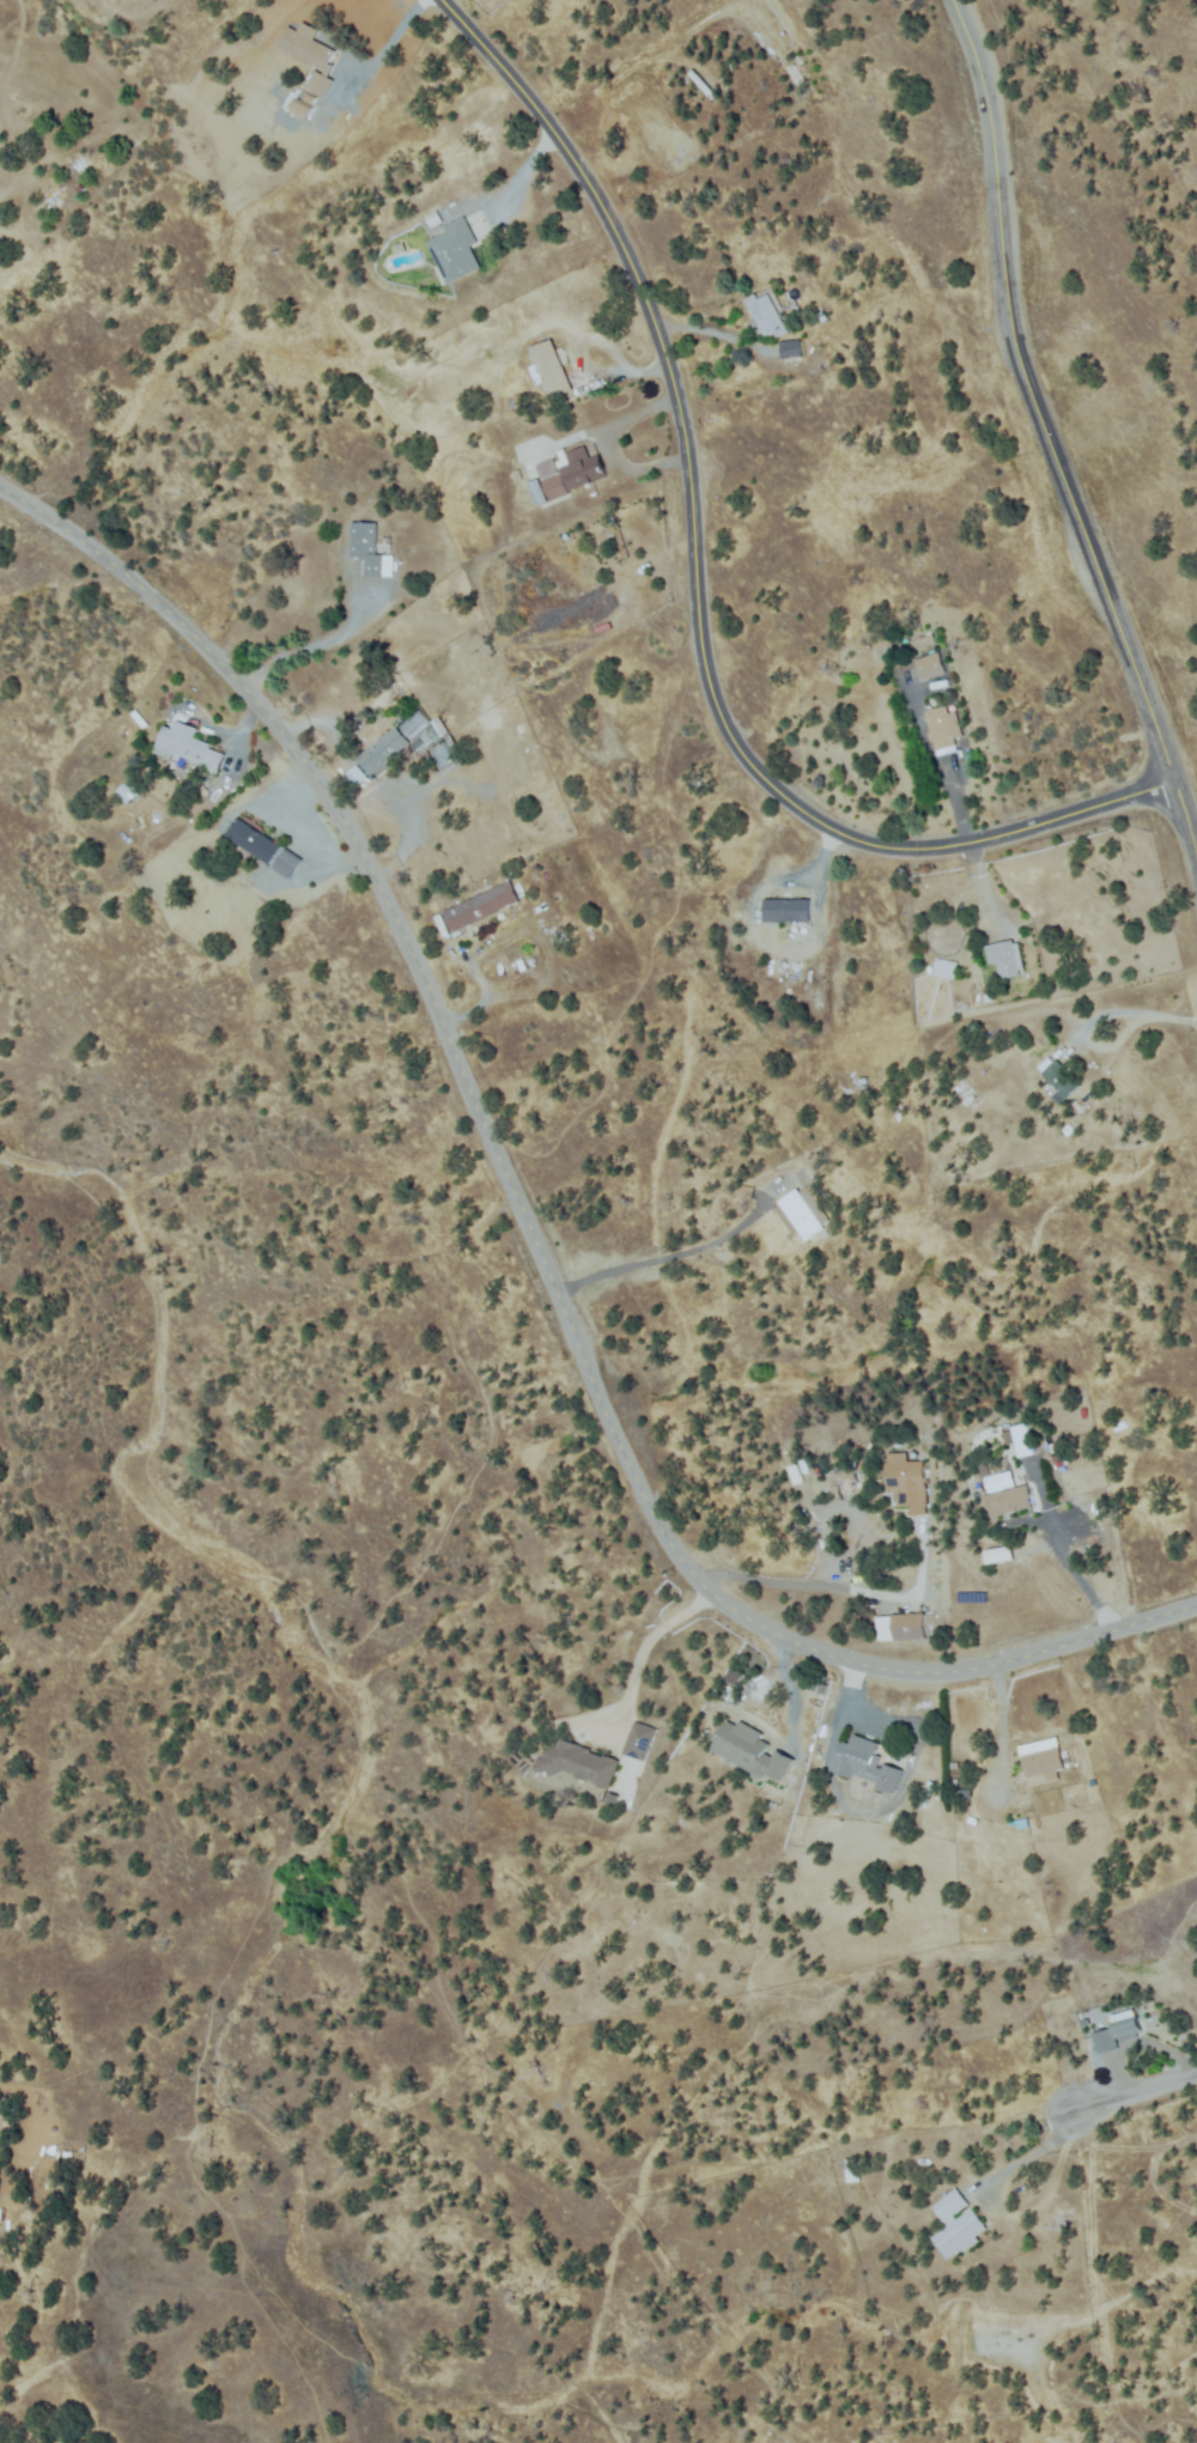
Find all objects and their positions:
building: (310, 55)
building: (311, 99)
building: (299, 108)
building: (455, 250)
building: (766, 316)
building: (821, 317)
building: (790, 350)
building: (552, 369)
road: (1046, 449)
building: (583, 468)
building: (552, 480)
building: (539, 492)
building: (370, 549)
road: (694, 581)
building: (926, 642)
building: (930, 667)
building: (943, 727)
building: (417, 743)
building: (188, 747)
building: (383, 752)
building: (356, 777)
building: (124, 794)
building: (254, 841)
building: (287, 864)
building: (481, 906)
building: (786, 911)
building: (440, 926)
building: (1005, 956)
building: (521, 965)
building: (944, 967)
building: (988, 992)
building: (1058, 1080)
building: (816, 1162)
building: (745, 1192)
building: (803, 1211)
road: (524, 1227)
building: (1082, 1412)
building: (1120, 1427)
building: (1008, 1438)
building: (1023, 1441)
building: (803, 1465)
building: (983, 1466)
building: (1057, 1466)
building: (822, 1467)
building: (794, 1473)
building: (999, 1482)
building: (907, 1483)
building: (1009, 1501)
building: (995, 1554)
building: (899, 1628)
building: (731, 1676)
building: (820, 1688)
building: (638, 1742)
building: (746, 1749)
building: (579, 1763)
building: (865, 1763)
building: (1041, 1766)
building: (1126, 2026)
building: (1105, 2042)
road: (1132, 2093)
building: (852, 2170)
building: (958, 2226)

